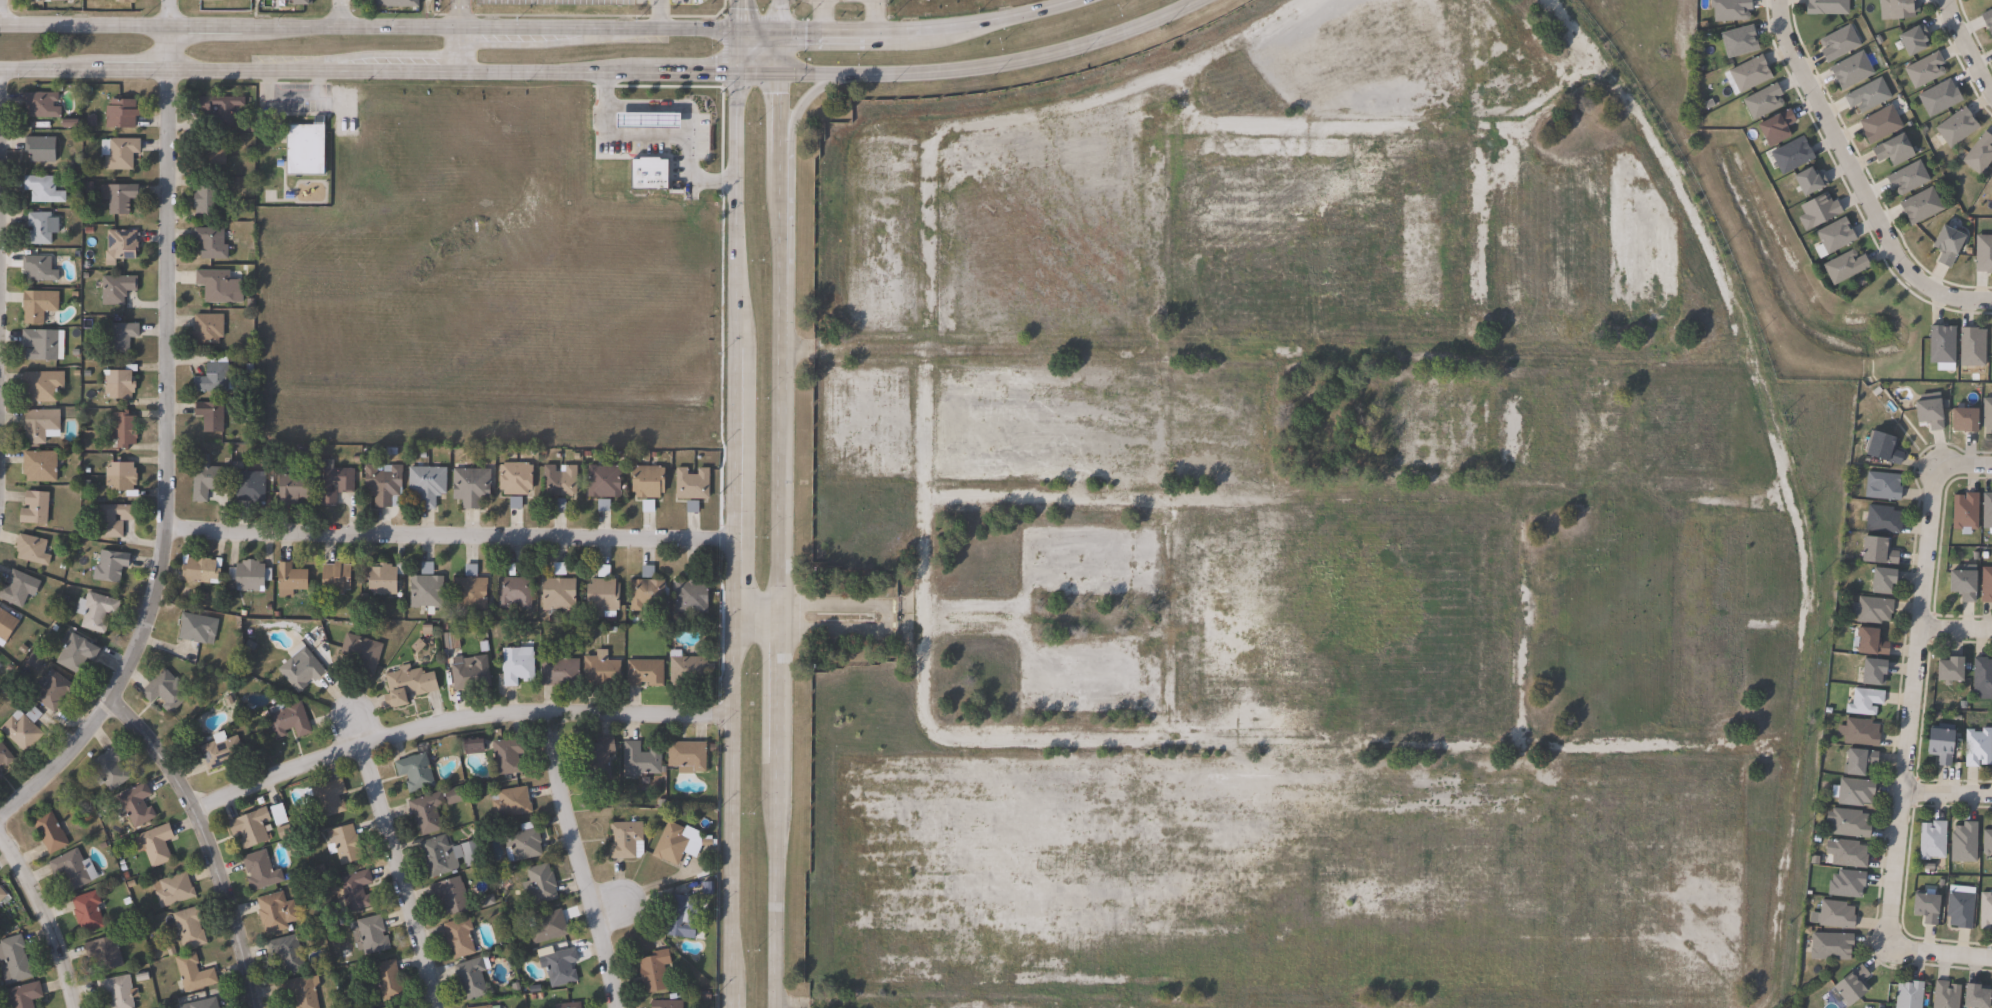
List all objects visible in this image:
building: (39, 0)
building: (205, 0)
building: (1973, 0)
building: (127, 1)
road: (819, 1)
building: (844, 1)
building: (399, 3)
building: (1827, 7)
building: (1897, 9)
building: (1730, 10)
road: (2, 11)
road: (171, 12)
road: (342, 13)
road: (461, 13)
road: (657, 13)
road: (742, 15)
road: (817, 15)
road: (871, 15)
road: (784, 16)
building: (1988, 21)
road: (538, 26)
traffic signals: (742, 30)
traffic signals: (784, 32)
road: (1237, 36)
building: (1914, 40)
building: (1739, 42)
building: (1838, 44)
road: (170, 47)
road: (461, 48)
road: (1966, 52)
parking lot: (1394, 60)
road: (605, 70)
traffic signals: (740, 70)
traffic signals: (783, 70)
building: (1851, 70)
building: (1925, 70)
building: (1749, 74)
building: (1868, 96)
building: (1939, 98)
building: (1763, 101)
road: (805, 102)
building: (44, 105)
building: (222, 110)
building: (123, 114)
building: (645, 119)
building: (1880, 125)
building: (1957, 127)
road: (1416, 128)
building: (1776, 128)
road: (652, 132)
building: (42, 148)
building: (308, 149)
building: (1893, 151)
building: (121, 153)
building: (1979, 154)
building: (215, 155)
building: (1792, 155)
building: (647, 171)
building: (1908, 178)
road: (1856, 179)
building: (1809, 182)
building: (1991, 187)
building: (45, 189)
building: (121, 195)
building: (208, 200)
building: (1921, 206)
building: (1820, 210)
road: (1510, 219)
building: (42, 229)
building: (1835, 236)
building: (1319, 239)
building: (213, 242)
building: (123, 245)
building: (1948, 246)
road: (1, 248)
building: (1983, 255)
building: (1845, 266)
building: (41, 269)
building: (220, 286)
building: (118, 289)
building: (41, 306)
parking lot: (1025, 308)
road: (923, 309)
building: (210, 329)
building: (123, 337)
building: (43, 344)
building: (1942, 346)
building: (1972, 346)
building: (1991, 346)
road: (1262, 352)
building: (217, 379)
building: (123, 384)
building: (44, 386)
building: (1929, 412)
building: (1987, 414)
building: (214, 416)
building: (1964, 418)
road: (1499, 425)
building: (43, 426)
building: (1428, 427)
building: (127, 430)
building: (1593, 444)
building: (1883, 447)
building: (43, 466)
road: (169, 472)
road: (1783, 477)
building: (208, 478)
building: (124, 479)
building: (338, 482)
building: (512, 482)
building: (386, 484)
building: (427, 484)
building: (468, 484)
building: (558, 484)
building: (602, 484)
building: (645, 484)
building: (1884, 485)
building: (252, 487)
building: (297, 487)
building: (689, 487)
road: (1355, 500)
building: (37, 507)
building: (1965, 510)
building: (1987, 510)
building: (1237, 517)
road: (735, 518)
building: (115, 519)
road: (781, 519)
building: (1883, 519)
road: (452, 532)
building: (34, 549)
building: (1877, 550)
building: (1544, 563)
building: (113, 566)
building: (203, 569)
building: (252, 575)
building: (339, 578)
building: (388, 578)
building: (293, 579)
building: (1883, 580)
building: (1963, 583)
building: (1986, 584)
building: (20, 587)
building: (427, 587)
building: (468, 589)
building: (512, 590)
building: (556, 590)
building: (645, 590)
building: (689, 592)
building: (600, 594)
road: (758, 606)
building: (1872, 609)
building: (98, 610)
parking lot: (1090, 618)
building: (1331, 620)
road: (1516, 621)
building: (8, 623)
building: (199, 627)
road: (1954, 629)
road: (970, 632)
building: (1871, 642)
building: (79, 652)
building: (365, 653)
building: (514, 665)
building: (0, 666)
building: (686, 668)
building: (557, 669)
building: (304, 670)
building: (599, 670)
building: (1950, 670)
building: (643, 672)
building: (1873, 672)
building: (468, 673)
road: (1912, 676)
building: (1982, 677)
building: (410, 684)
building: (55, 690)
building: (168, 690)
building: (1864, 702)
road: (458, 718)
building: (290, 719)
building: (25, 728)
road: (357, 728)
building: (1859, 732)
road: (1243, 739)
building: (469, 744)
building: (1940, 745)
road: (1122, 746)
road: (1231, 747)
building: (1977, 747)
building: (223, 749)
road: (1343, 749)
building: (6, 753)
building: (505, 756)
building: (685, 756)
building: (597, 757)
building: (639, 760)
building: (1859, 761)
building: (113, 767)
building: (420, 773)
building: (0, 774)
building: (1854, 791)
road: (1946, 794)
building: (457, 796)
building: (330, 798)
building: (513, 802)
building: (138, 806)
building: (429, 811)
building: (282, 814)
building: (1848, 823)
building: (253, 827)
building: (52, 832)
road: (212, 838)
building: (624, 839)
building: (1932, 840)
building: (1987, 841)
building: (1964, 842)
building: (526, 843)
building: (157, 844)
building: (347, 844)
building: (676, 849)
building: (474, 852)
building: (1848, 854)
building: (441, 855)
road: (584, 860)
building: (76, 869)
building: (263, 870)
road: (397, 874)
parking lot: (1286, 876)
building: (1846, 884)
building: (539, 885)
building: (175, 889)
building: (356, 890)
building: (3, 894)
building: (454, 895)
road: (608, 904)
building: (1926, 908)
building: (1959, 909)
building: (90, 911)
building: (1985, 911)
building: (278, 912)
road: (46, 914)
building: (1836, 915)
building: (678, 916)
building: (548, 926)
building: (192, 927)
building: (372, 935)
building: (461, 937)
building: (1830, 946)
building: (289, 951)
building: (107, 953)
road: (1938, 953)
building: (15, 960)
building: (563, 967)
building: (652, 971)
building: (196, 973)
building: (474, 978)
building: (389, 980)
building: (1852, 986)
building: (118, 991)
building: (304, 991)
building: (1908, 995)
building: (1945, 995)
building: (25, 996)
building: (1975, 997)
building: (204, 1004)
building: (665, 1004)
building: (568, 1005)
road: (995, 1005)
building: (485, 1007)
building: (499, 1007)

